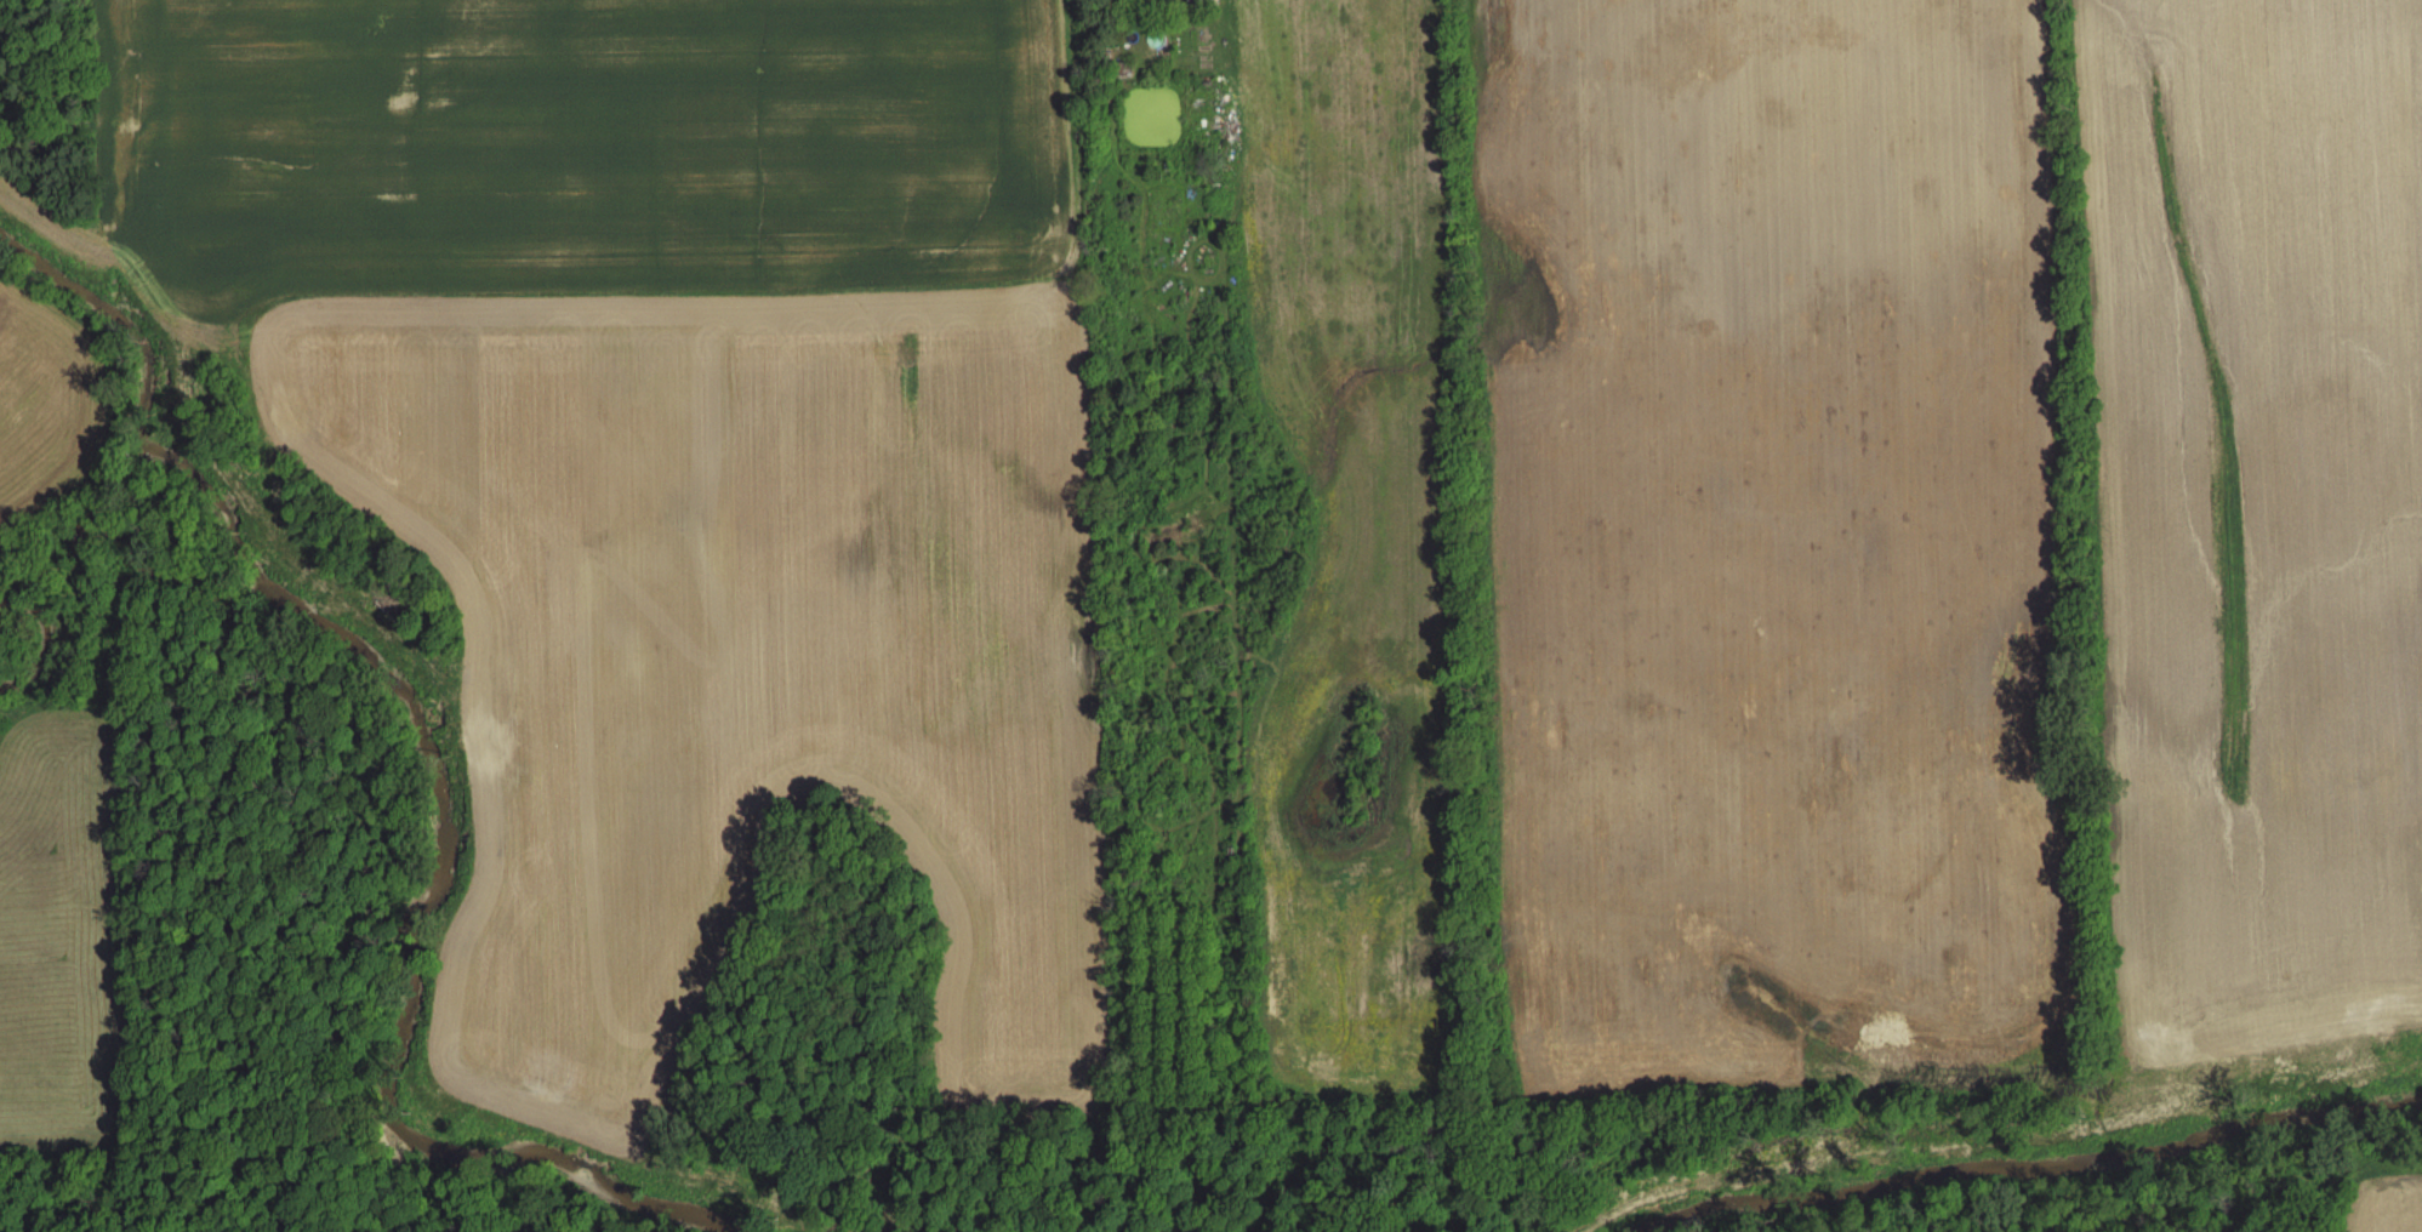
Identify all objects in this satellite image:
building: (1122, 69)

